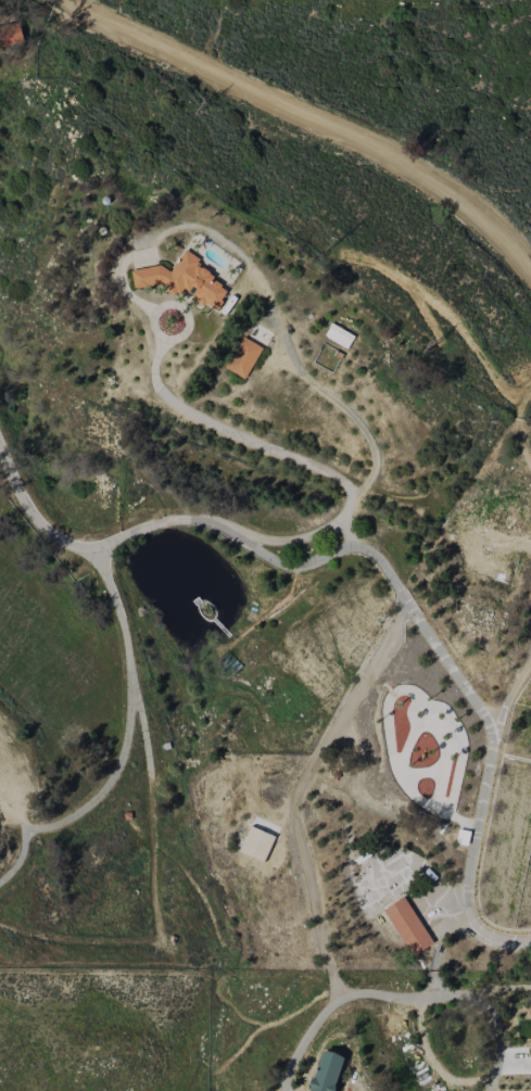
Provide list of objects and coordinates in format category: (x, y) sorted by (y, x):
road: (294, 123)
building: (178, 278)
road: (146, 304)
building: (336, 334)
building: (239, 356)
road: (382, 557)
road: (292, 838)
building: (404, 925)
road: (413, 1031)
building: (319, 1071)

